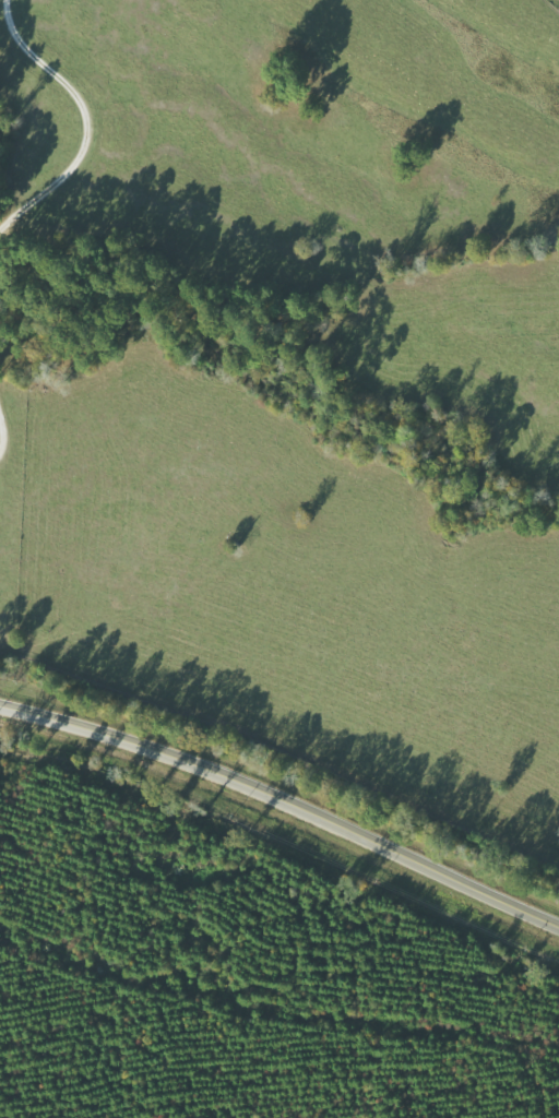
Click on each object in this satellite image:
road: (285, 801)

